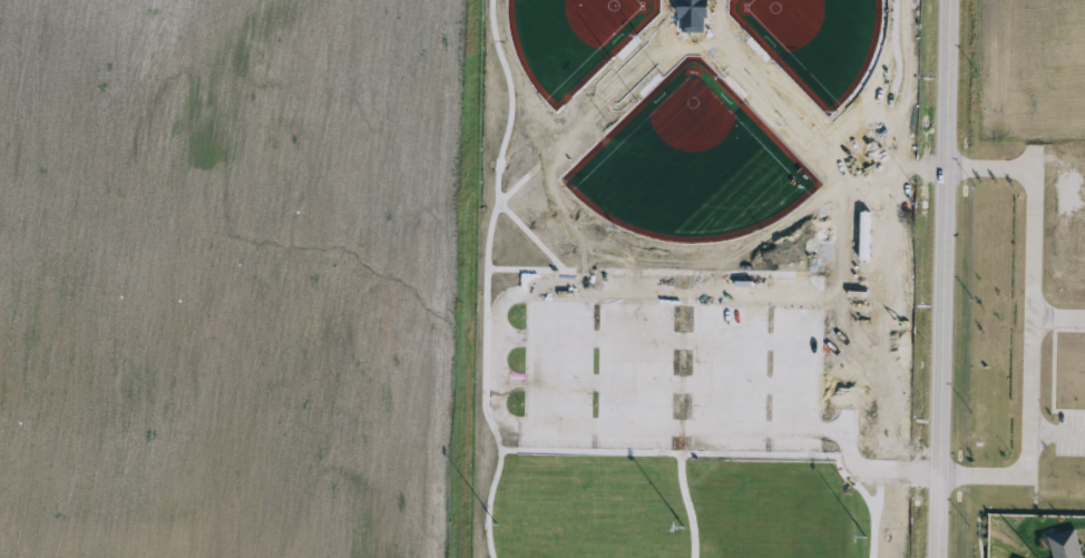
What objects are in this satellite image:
road: (942, 278)
road: (1023, 321)
road: (1054, 321)
road: (1054, 435)

